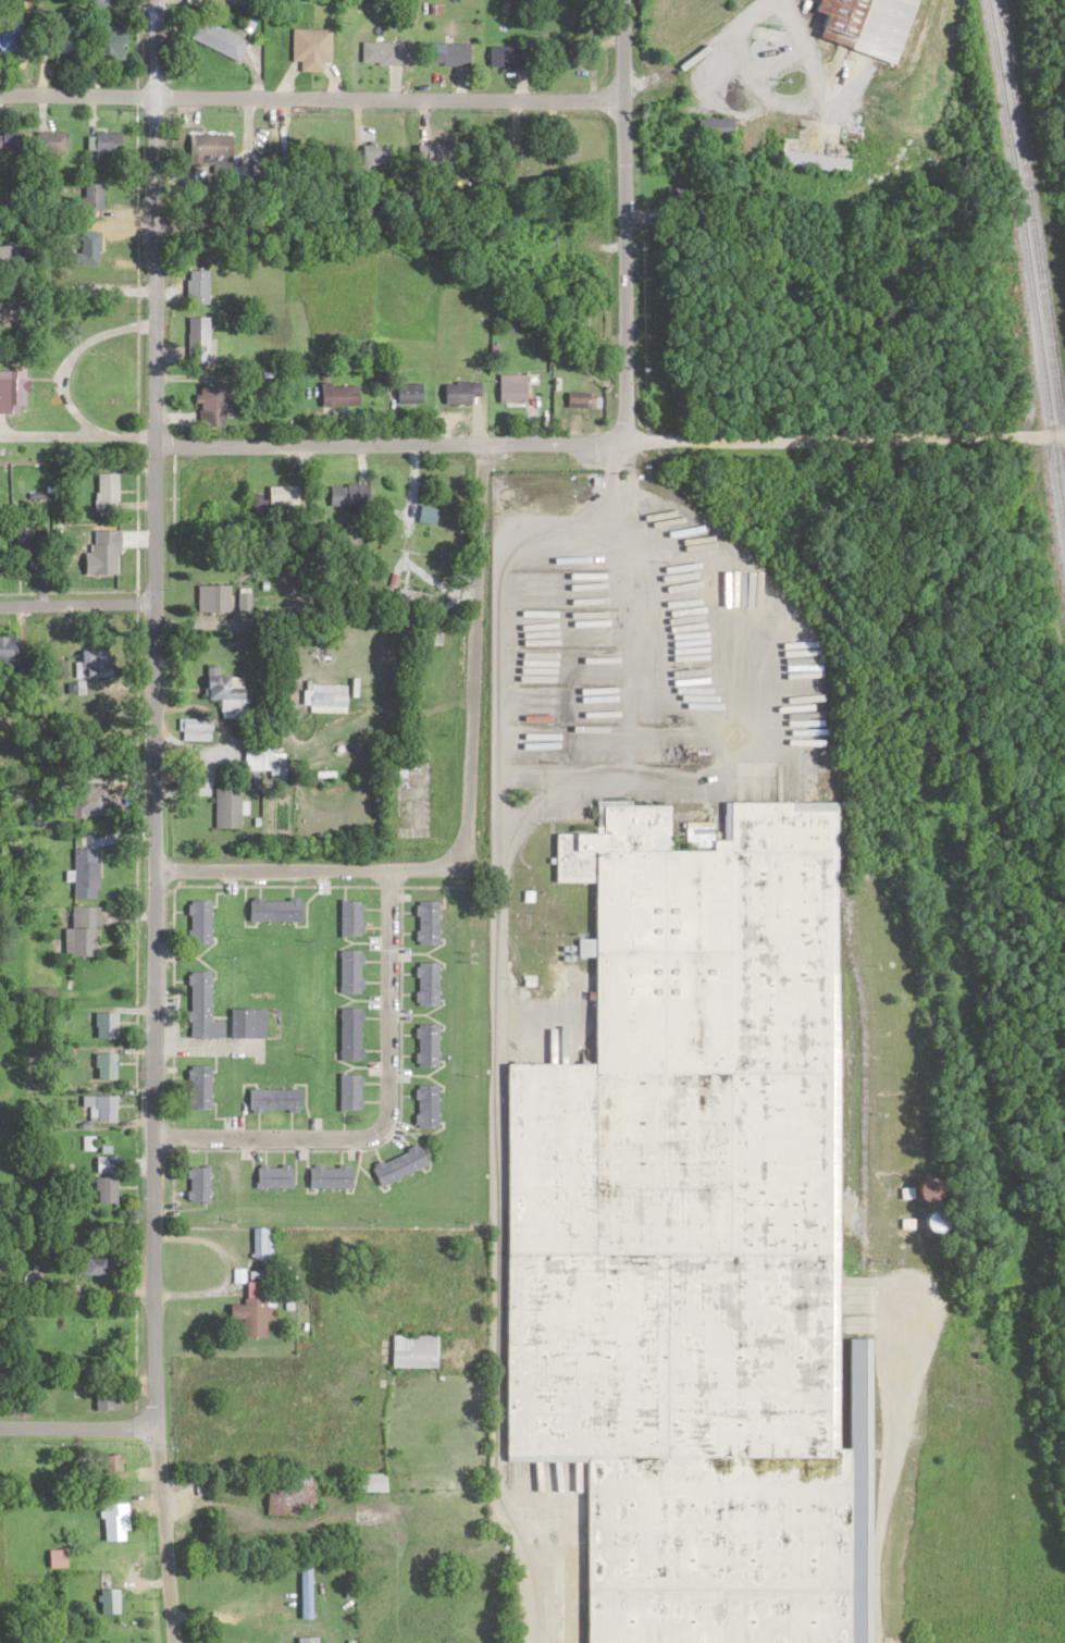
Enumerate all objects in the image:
building: (212, 2)
building: (859, 24)
building: (12, 33)
building: (219, 41)
building: (112, 44)
building: (311, 49)
road: (624, 49)
road: (693, 50)
building: (445, 53)
building: (381, 54)
building: (508, 55)
road: (312, 97)
building: (714, 125)
building: (11, 138)
building: (50, 139)
building: (106, 140)
building: (208, 146)
building: (436, 150)
building: (566, 150)
building: (374, 152)
building: (809, 159)
building: (90, 193)
railway: (1033, 220)
road: (596, 245)
building: (86, 246)
building: (9, 252)
railway: (1029, 265)
road: (626, 270)
building: (194, 284)
road: (76, 287)
building: (580, 317)
building: (196, 332)
building: (509, 386)
building: (10, 387)
building: (405, 390)
building: (458, 390)
building: (333, 392)
building: (575, 396)
building: (213, 402)
road: (609, 441)
road: (410, 482)
building: (103, 489)
building: (343, 492)
building: (270, 496)
building: (197, 498)
building: (21, 545)
building: (104, 554)
building: (208, 596)
road: (500, 597)
road: (75, 601)
building: (8, 648)
road: (473, 657)
building: (86, 662)
building: (222, 690)
building: (319, 696)
road: (727, 701)
building: (190, 727)
building: (259, 756)
building: (83, 802)
building: (223, 804)
road: (153, 821)
road: (302, 867)
building: (82, 870)
building: (270, 906)
building: (346, 915)
building: (195, 919)
building: (423, 919)
building: (78, 929)
building: (346, 968)
building: (423, 981)
building: (197, 1005)
building: (243, 1021)
building: (102, 1023)
building: (346, 1031)
building: (422, 1042)
building: (101, 1064)
building: (194, 1085)
building: (346, 1089)
building: (269, 1098)
building: (422, 1103)
building: (98, 1104)
road: (385, 1112)
building: (84, 1140)
building: (100, 1162)
building: (394, 1163)
building: (270, 1173)
building: (325, 1174)
building: (194, 1182)
building: (101, 1188)
building: (917, 1188)
building: (927, 1220)
building: (694, 1232)
building: (85, 1264)
building: (63, 1289)
building: (248, 1307)
building: (409, 1348)
road: (78, 1424)
building: (109, 1467)
building: (367, 1481)
building: (284, 1491)
building: (111, 1520)
building: (106, 1599)
building: (305, 1639)
building: (236, 1641)

